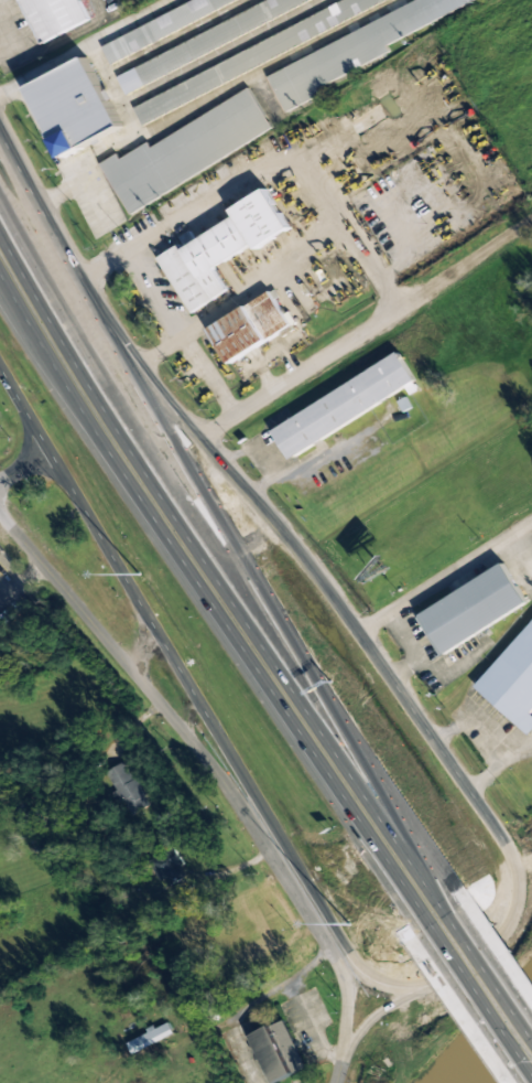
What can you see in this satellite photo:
building: (53, 15)
building: (164, 29)
building: (202, 43)
building: (354, 51)
building: (250, 58)
building: (75, 107)
building: (185, 151)
road: (45, 223)
road: (2, 234)
building: (220, 249)
building: (250, 326)
road: (115, 330)
road: (109, 333)
road: (316, 366)
building: (341, 405)
road: (23, 464)
road: (63, 476)
road: (246, 492)
road: (220, 538)
building: (529, 567)
road: (444, 575)
road: (219, 581)
building: (471, 609)
road: (210, 610)
road: (164, 643)
road: (143, 651)
road: (374, 655)
building: (512, 682)
road: (399, 690)
road: (206, 716)
road: (430, 734)
road: (208, 765)
building: (126, 789)
building: (166, 866)
road: (300, 870)
road: (519, 888)
building: (231, 934)
road: (490, 974)
road: (417, 985)
road: (419, 988)
road: (482, 1009)
road: (369, 1018)
building: (139, 1041)
building: (276, 1051)
road: (336, 1068)

